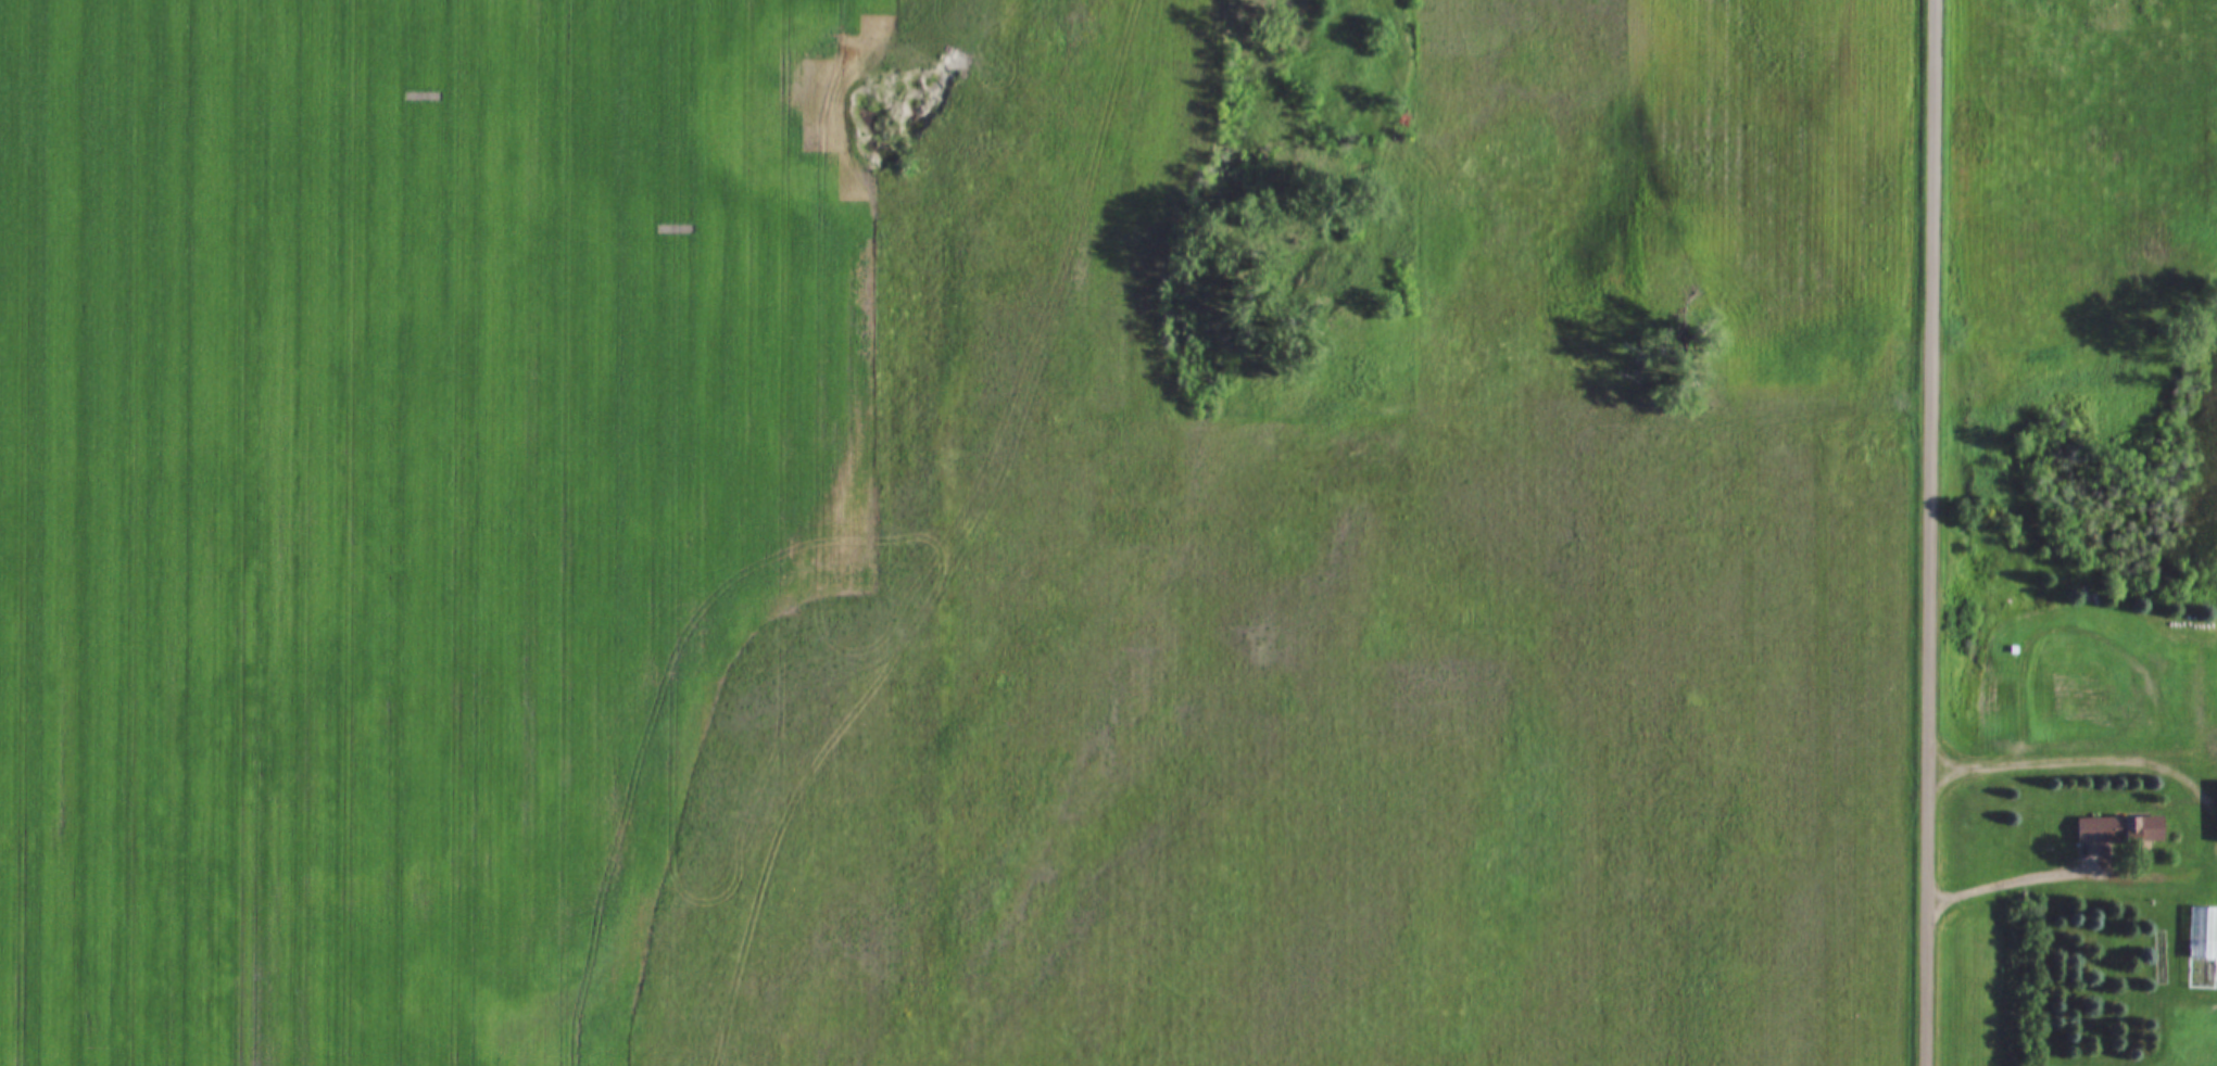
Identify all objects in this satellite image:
road: (1933, 532)
road: (2089, 763)
building: (2115, 829)
road: (2158, 873)
road: (2023, 880)
building: (2200, 932)

